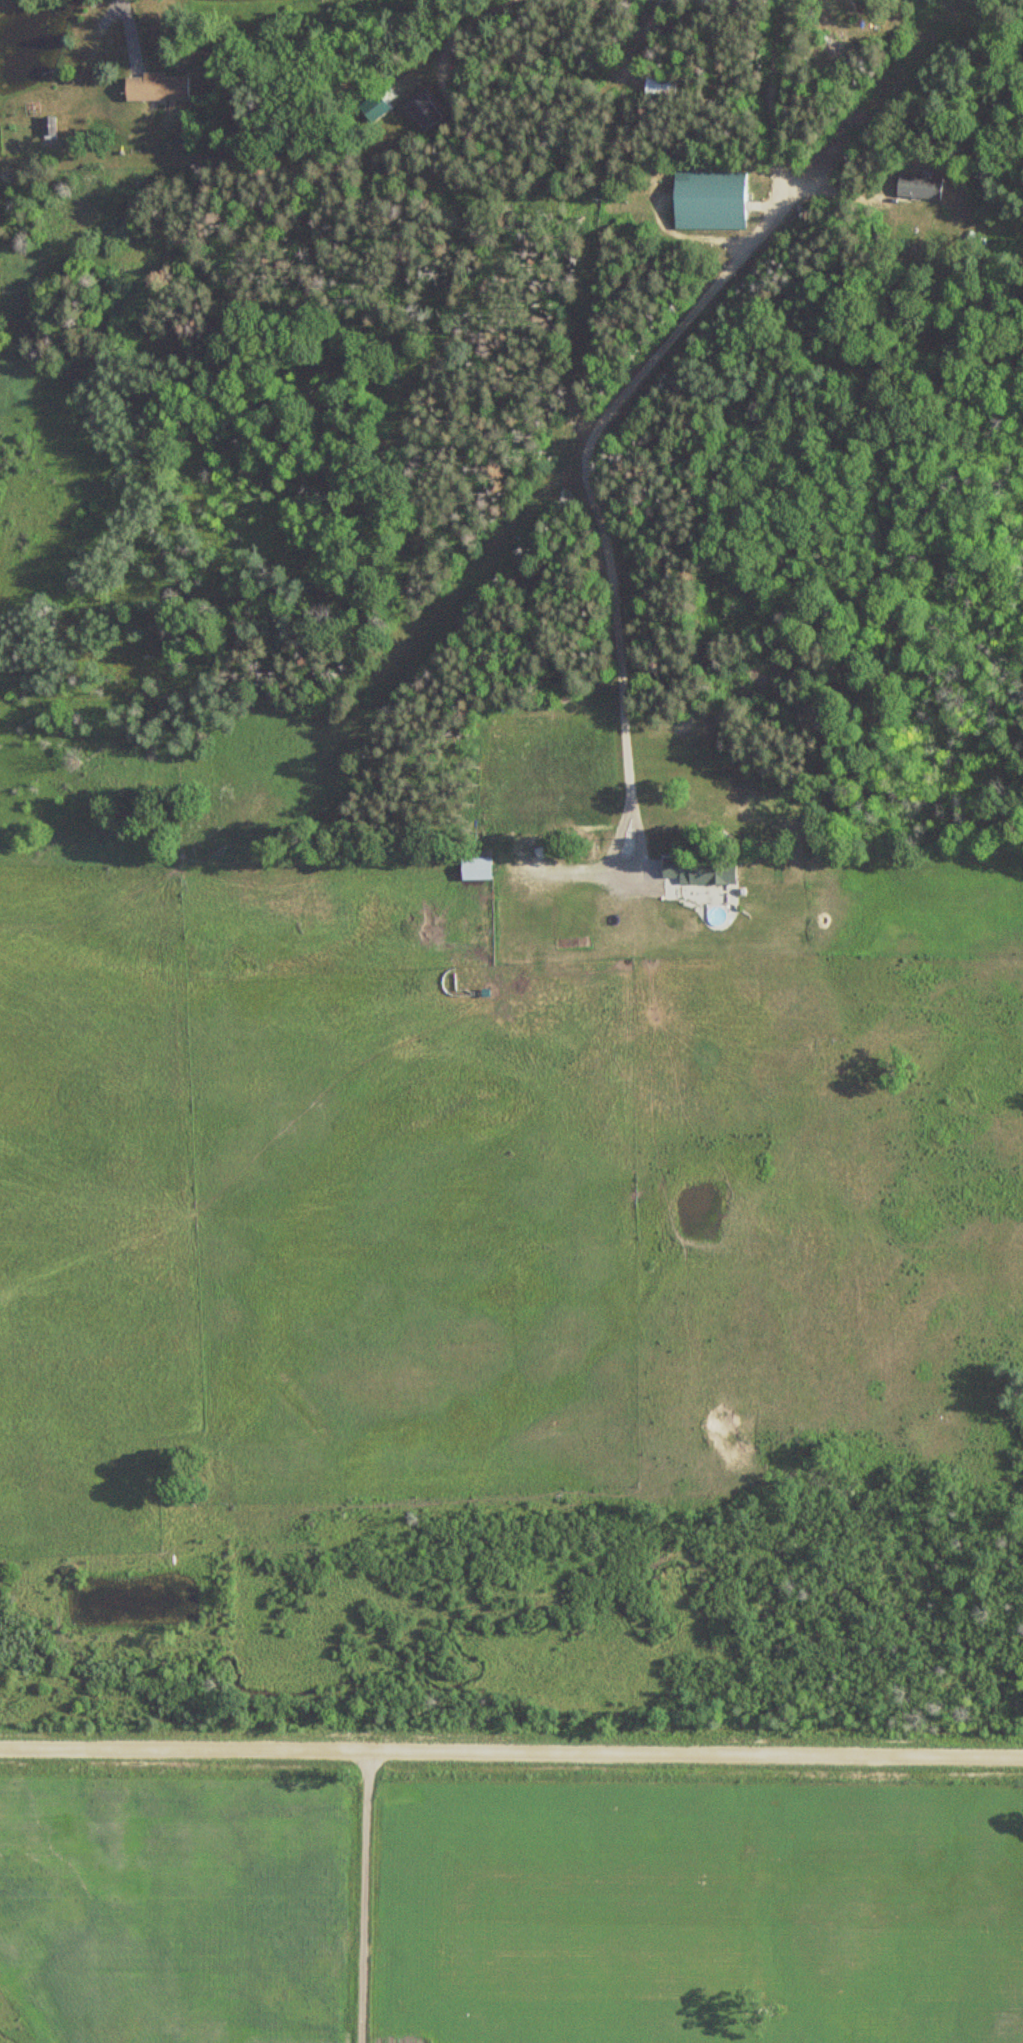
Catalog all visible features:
building: (826, 39)
building: (657, 83)
building: (160, 91)
road: (778, 108)
building: (428, 118)
building: (46, 131)
building: (916, 186)
building: (708, 197)
building: (472, 868)
building: (697, 870)
road: (511, 1747)

